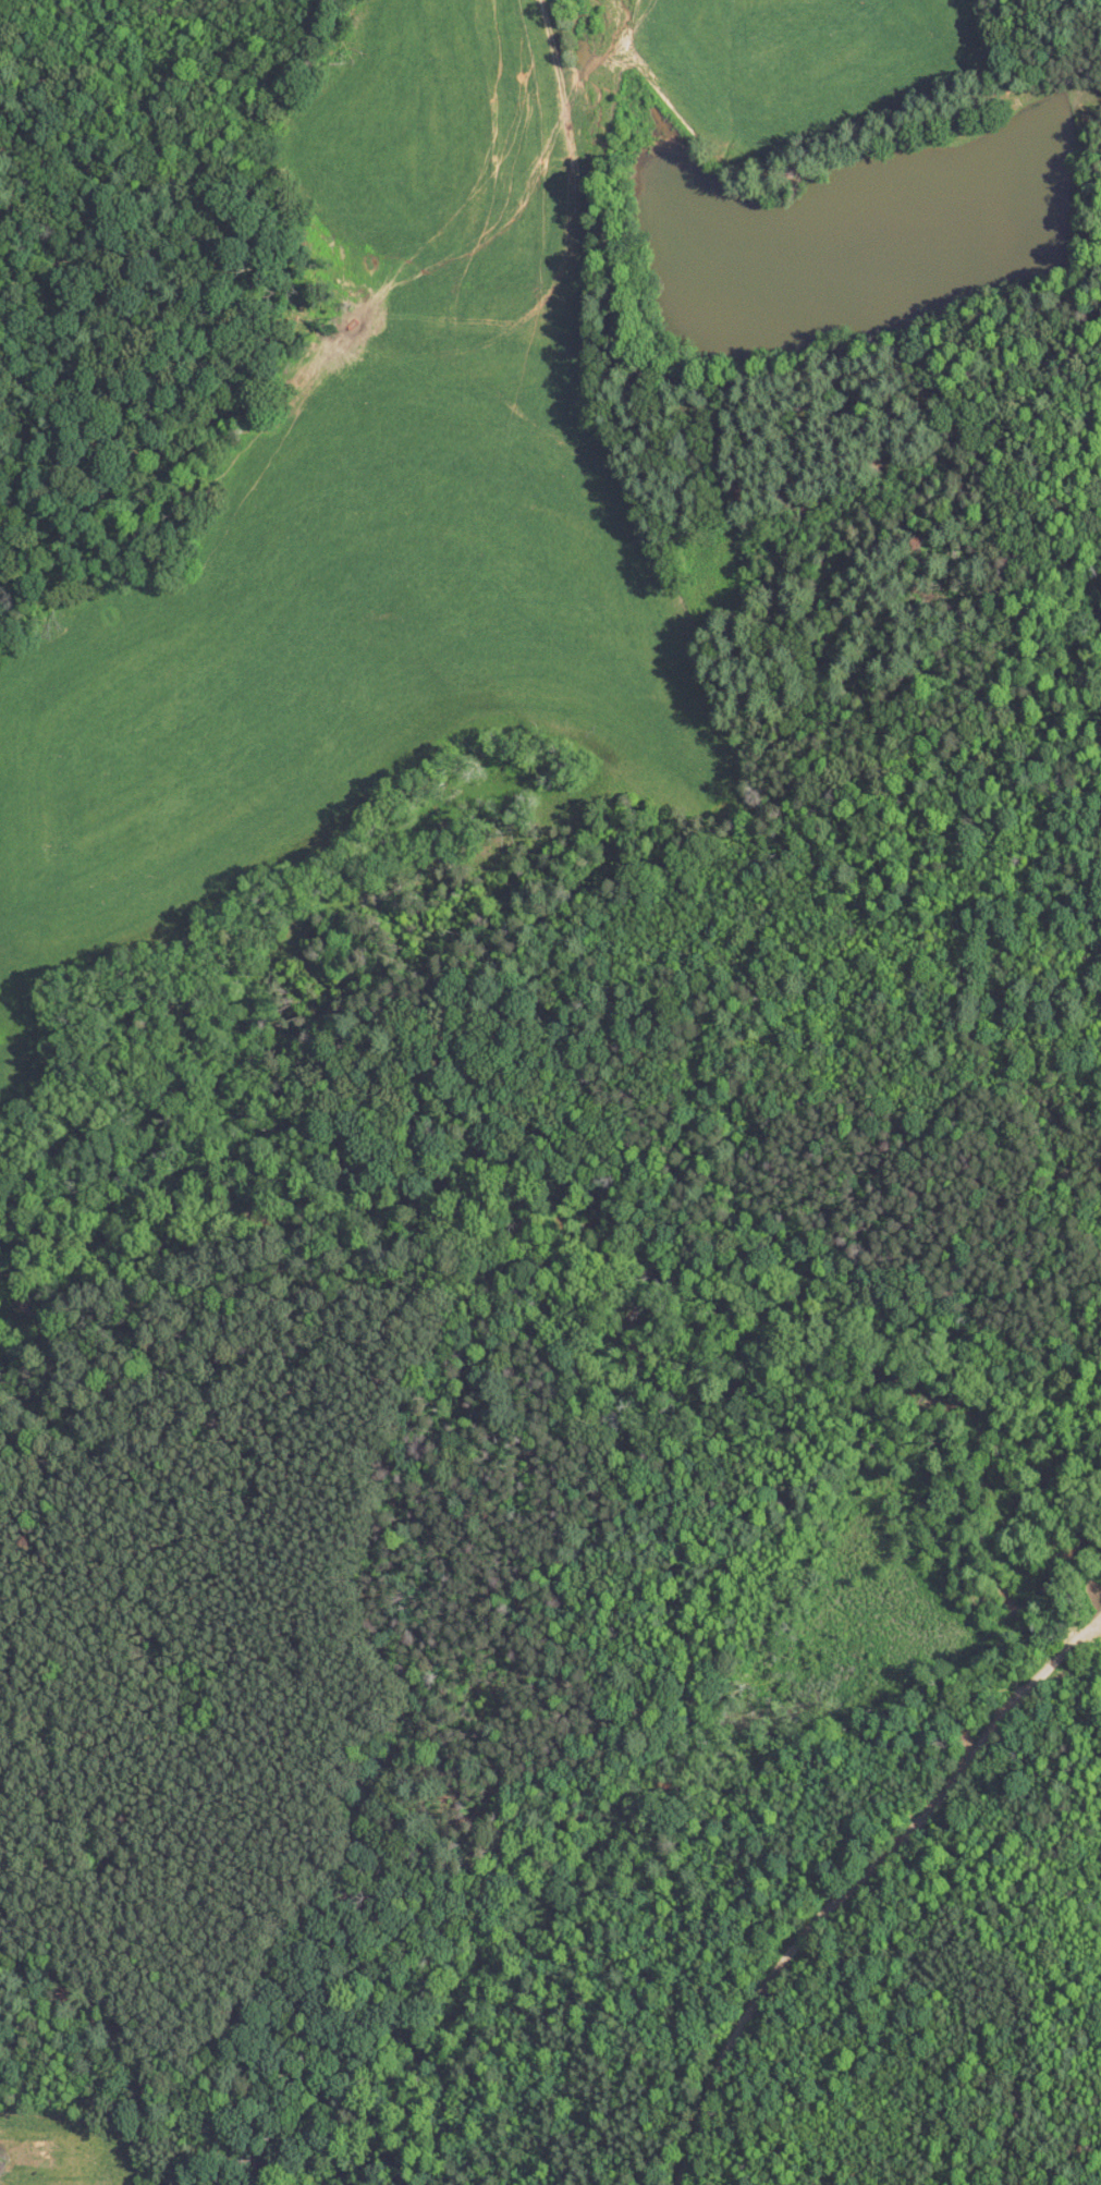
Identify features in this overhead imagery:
building: (29, 2151)

